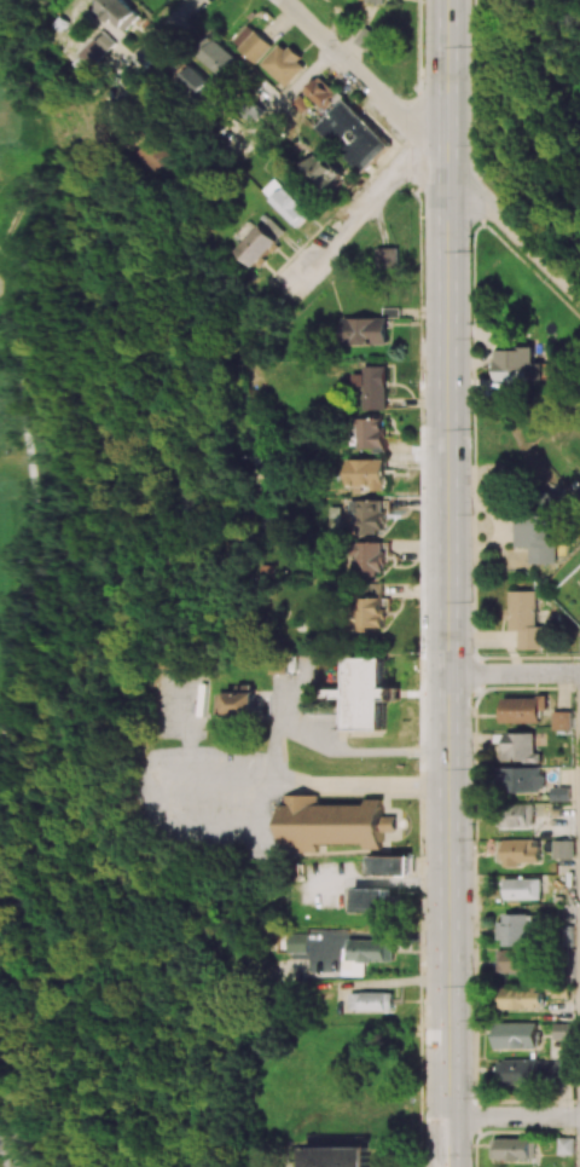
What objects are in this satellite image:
building: (373, 1)
building: (120, 12)
road: (169, 34)
building: (366, 37)
building: (253, 42)
building: (98, 48)
building: (219, 58)
building: (285, 64)
road: (365, 79)
building: (196, 82)
building: (321, 92)
building: (353, 135)
building: (149, 155)
building: (323, 174)
building: (286, 202)
road: (350, 215)
road: (514, 224)
building: (262, 241)
building: (388, 258)
building: (365, 330)
building: (518, 365)
park: (28, 387)
building: (375, 388)
building: (371, 433)
building: (366, 473)
building: (371, 516)
building: (538, 537)
building: (371, 560)
road: (447, 583)
building: (370, 610)
building: (526, 619)
traffic signals: (447, 674)
road: (514, 674)
building: (367, 693)
park: (123, 694)
building: (237, 701)
building: (524, 709)
building: (563, 721)
road: (335, 747)
building: (521, 747)
building: (522, 779)
road: (306, 780)
building: (561, 795)
building: (518, 815)
building: (333, 822)
building: (564, 849)
building: (518, 853)
building: (388, 865)
building: (518, 888)
building: (371, 900)
building: (517, 928)
building: (297, 946)
building: (365, 954)
building: (515, 960)
building: (524, 998)
building: (371, 1000)
building: (518, 1035)
building: (535, 1070)
road: (514, 1115)
building: (567, 1145)
building: (514, 1148)
building: (338, 1156)
road: (4, 1160)

